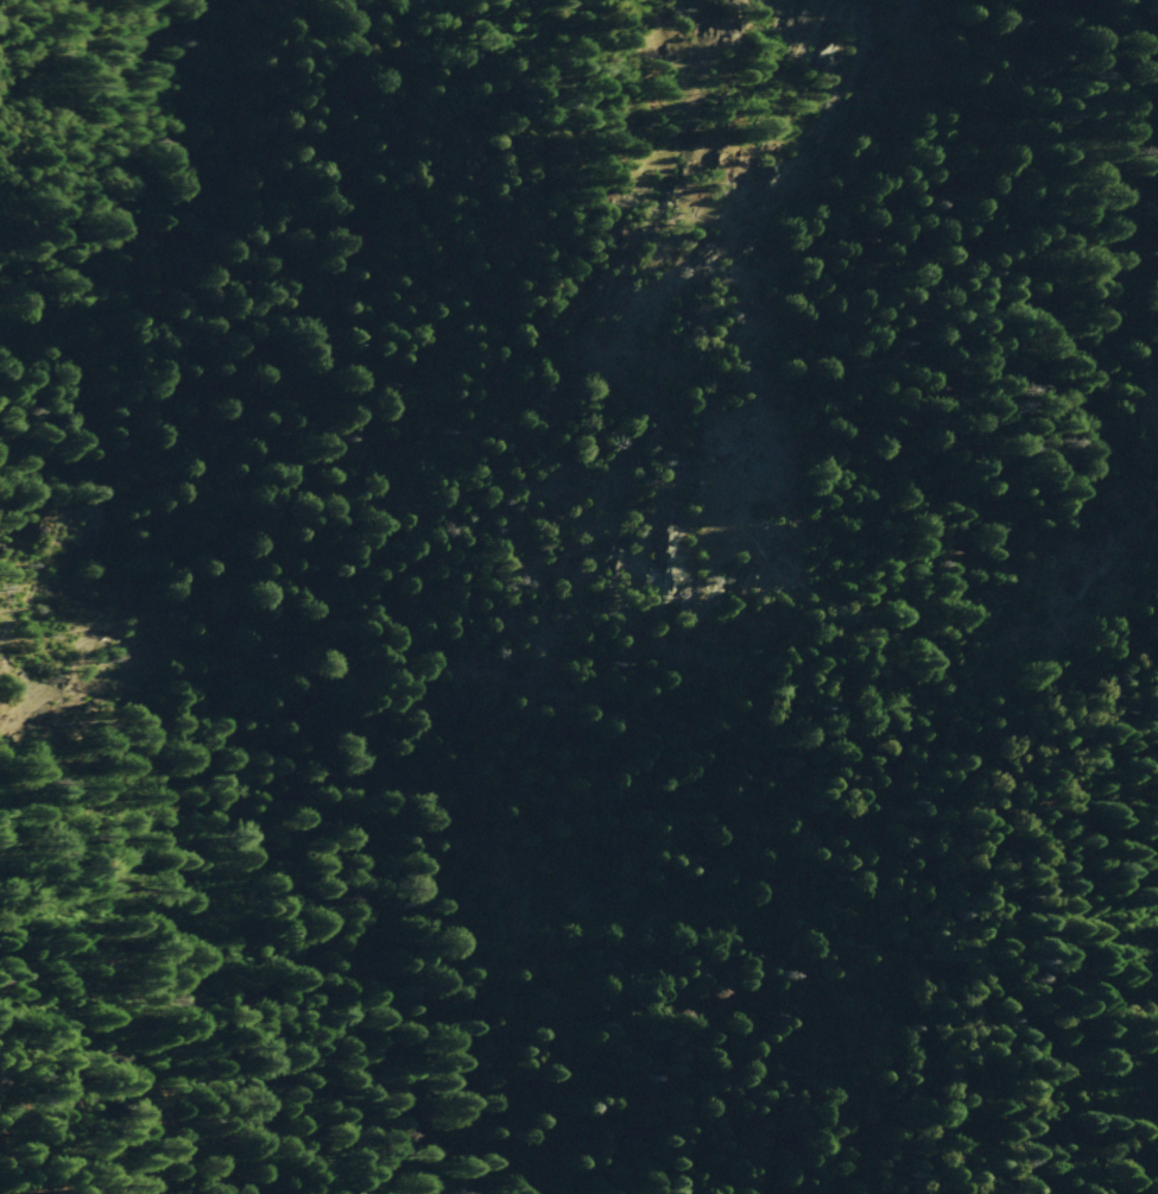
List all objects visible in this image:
road: (170, 196)

